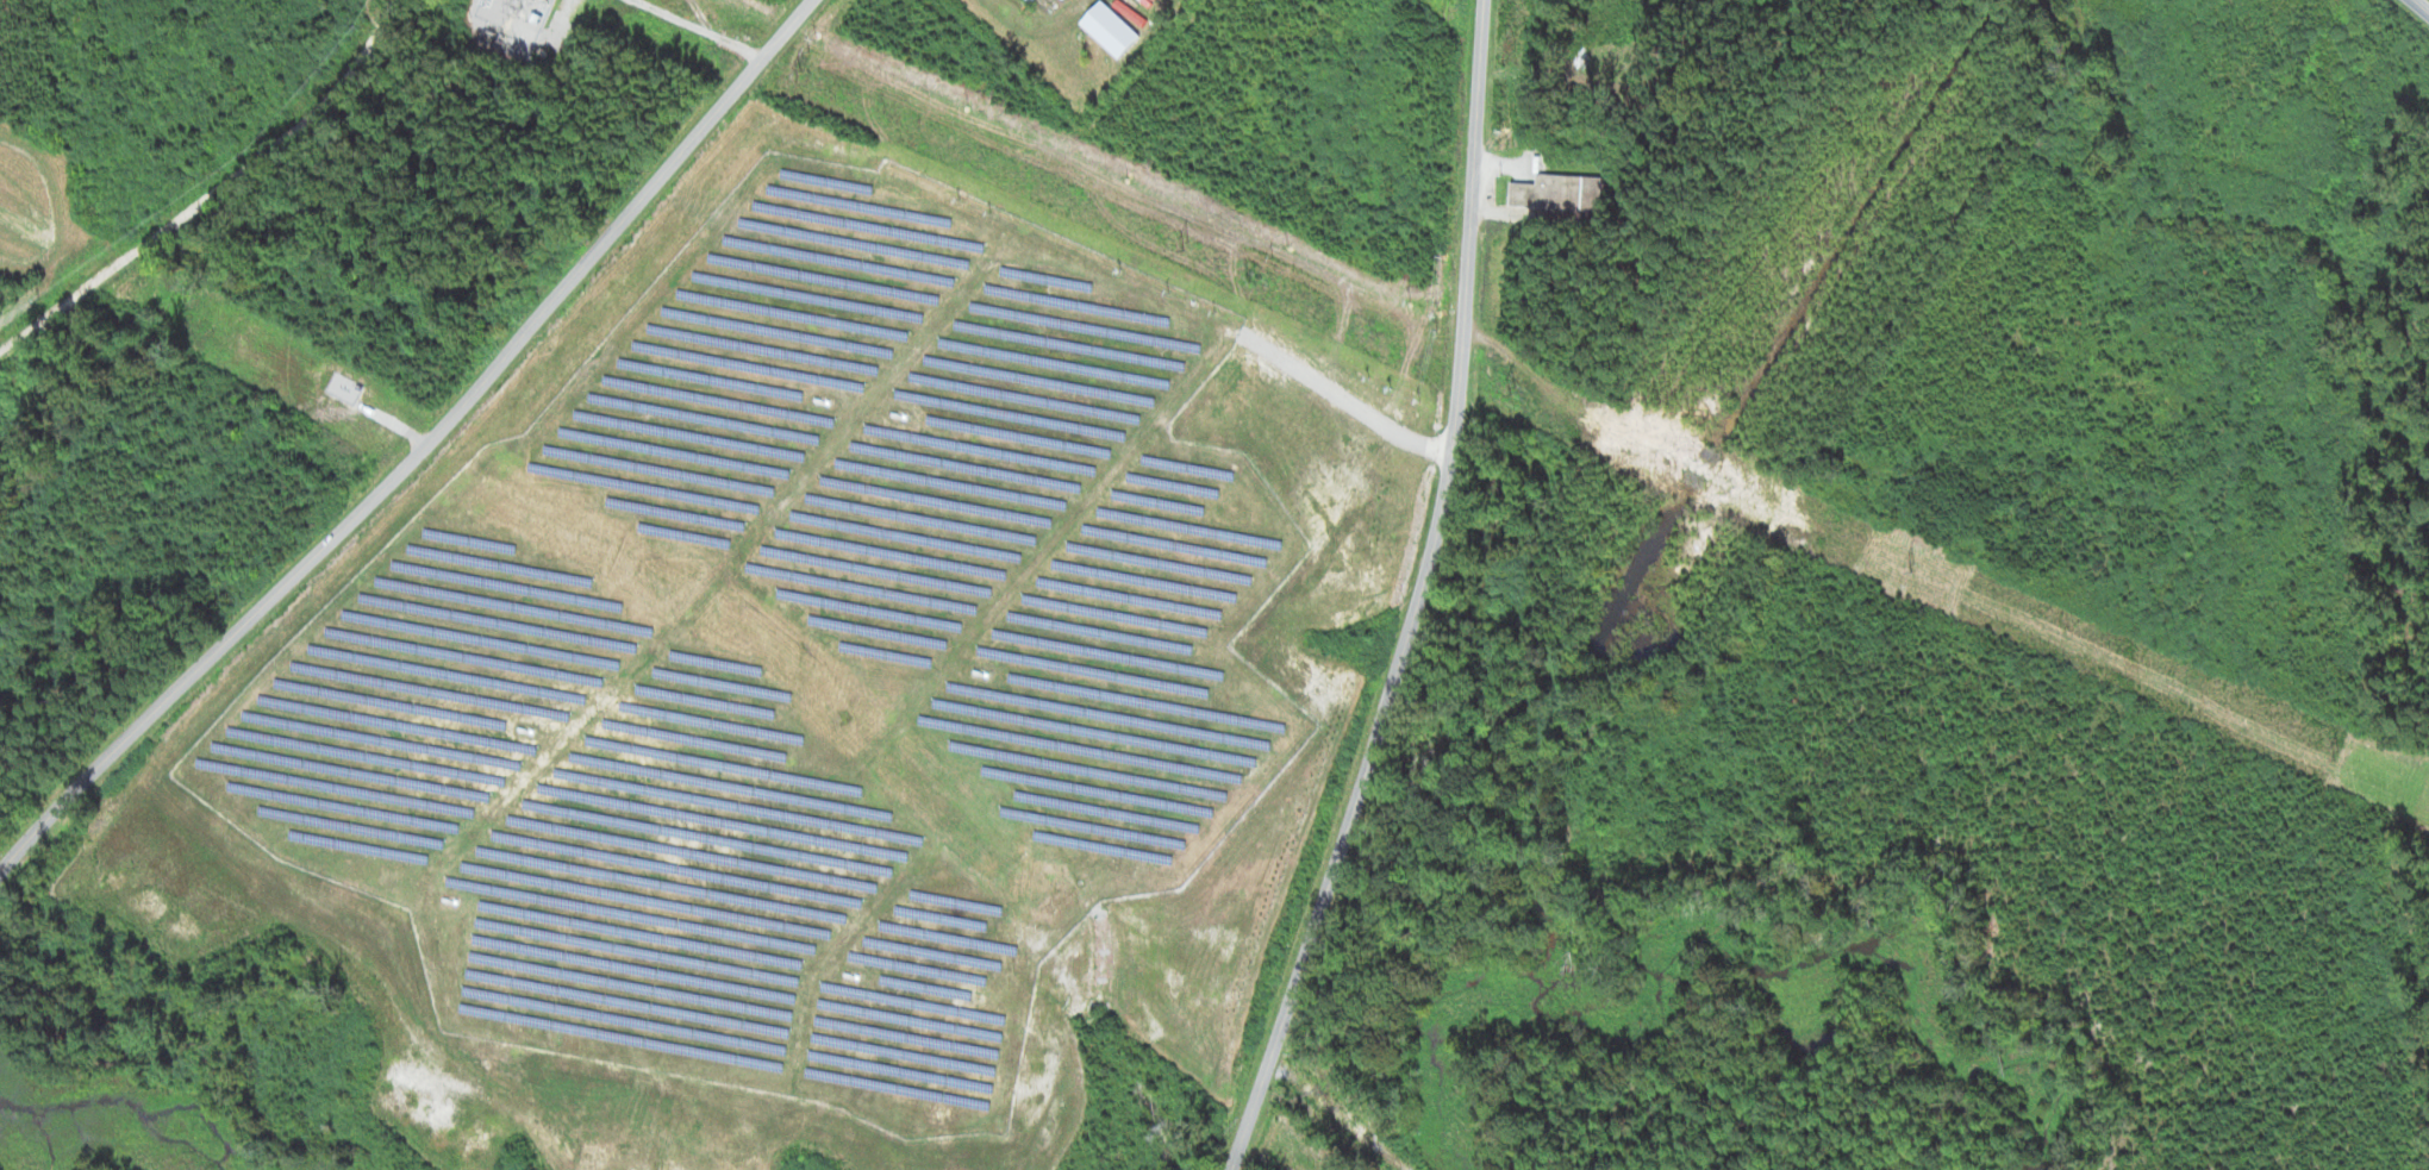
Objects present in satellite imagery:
road: (2424, 4)
power substation: (520, 26)
power tower: (804, 74)
building: (1563, 192)
power tower: (1187, 245)
power tower: (1516, 392)
road: (416, 450)
power tower: (1913, 568)
road: (1416, 596)
solar farm: (800, 652)
power tower: (2337, 756)

